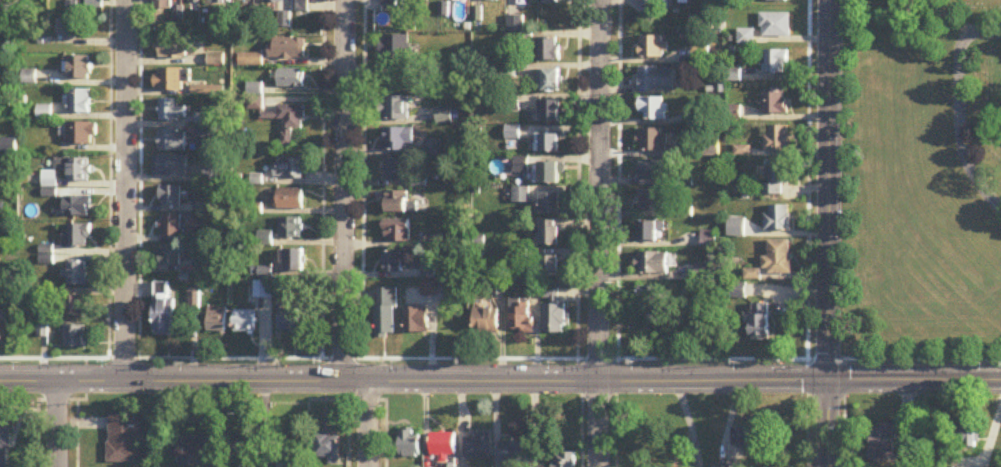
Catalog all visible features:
building: (425, 0)
building: (490, 0)
building: (777, 0)
building: (3, 1)
building: (191, 1)
building: (275, 1)
building: (683, 1)
building: (216, 2)
building: (246, 2)
building: (549, 2)
building: (646, 3)
building: (94, 4)
building: (160, 4)
building: (304, 5)
building: (776, 25)
building: (68, 28)
building: (2, 29)
building: (747, 37)
building: (651, 47)
building: (173, 48)
building: (395, 48)
building: (288, 49)
building: (548, 50)
building: (250, 60)
building: (776, 61)
building: (78, 68)
building: (291, 79)
building: (656, 79)
building: (171, 80)
building: (549, 81)
building: (208, 91)
building: (79, 101)
building: (774, 102)
building: (396, 109)
building: (654, 109)
building: (171, 110)
building: (550, 112)
building: (290, 122)
building: (79, 134)
building: (777, 139)
building: (398, 140)
building: (172, 141)
building: (653, 141)
building: (547, 143)
building: (9, 146)
building: (172, 167)
building: (289, 169)
building: (654, 170)
building: (77, 171)
building: (395, 171)
building: (549, 175)
building: (776, 178)
park: (926, 178)
road: (125, 189)
road: (345, 189)
building: (170, 197)
building: (288, 199)
building: (651, 201)
building: (396, 203)
building: (550, 205)
building: (77, 207)
building: (1, 211)
building: (778, 219)
building: (171, 227)
building: (736, 228)
building: (291, 229)
building: (396, 233)
road: (598, 233)
building: (648, 233)
road: (807, 233)
road: (826, 233)
building: (549, 235)
building: (77, 236)
building: (708, 238)
building: (46, 255)
building: (169, 255)
building: (778, 258)
building: (292, 262)
building: (392, 263)
building: (652, 264)
building: (549, 267)
building: (702, 271)
building: (76, 275)
building: (272, 290)
building: (737, 291)
building: (550, 295)
building: (649, 300)
building: (74, 306)
building: (164, 309)
building: (386, 313)
building: (520, 319)
building: (554, 320)
building: (217, 321)
building: (290, 321)
building: (416, 321)
building: (245, 322)
building: (486, 322)
building: (758, 322)
building: (0, 334)
building: (75, 337)
road: (500, 357)
road: (500, 380)
road: (844, 412)
road: (57, 423)
road: (369, 423)
building: (750, 436)
building: (968, 436)
building: (124, 438)
building: (882, 441)
building: (8, 443)
building: (408, 443)
building: (442, 445)
building: (189, 447)
building: (477, 447)
building: (326, 449)
building: (512, 453)
building: (289, 459)
building: (566, 460)

